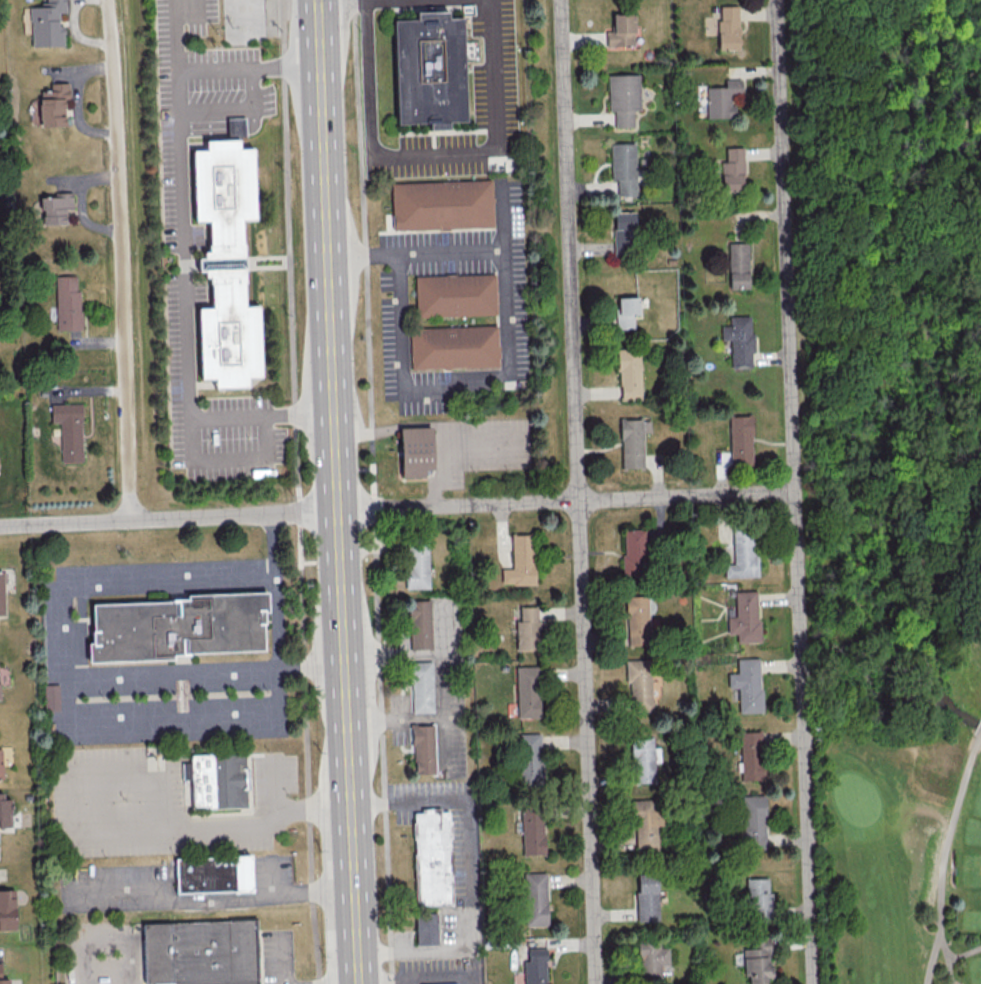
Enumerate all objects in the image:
road: (366, 1)
road: (393, 1)
road: (342, 2)
road: (292, 3)
road: (273, 17)
power substation: (247, 22)
building: (46, 23)
building: (728, 27)
building: (621, 30)
road: (287, 66)
road: (183, 67)
building: (433, 70)
building: (623, 98)
building: (723, 99)
road: (257, 100)
building: (53, 104)
road: (205, 128)
road: (238, 128)
building: (238, 130)
road: (437, 157)
building: (623, 167)
building: (732, 170)
building: (443, 206)
building: (55, 207)
road: (326, 217)
building: (623, 233)
road: (450, 253)
road: (119, 260)
building: (228, 263)
building: (738, 265)
building: (457, 296)
building: (67, 302)
park: (862, 309)
building: (626, 311)
road: (189, 320)
building: (738, 340)
building: (454, 348)
building: (629, 373)
road: (457, 390)
river: (944, 405)
road: (299, 414)
road: (229, 417)
road: (392, 427)
building: (69, 430)
building: (740, 440)
building: (632, 442)
road: (444, 446)
building: (417, 452)
road: (503, 453)
road: (336, 473)
road: (296, 492)
road: (374, 492)
road: (577, 492)
road: (794, 492)
road: (565, 501)
road: (307, 514)
road: (137, 520)
building: (633, 552)
building: (743, 555)
building: (520, 560)
building: (418, 564)
building: (1, 593)
building: (744, 617)
building: (637, 620)
road: (279, 624)
building: (421, 626)
building: (178, 628)
building: (527, 628)
park: (919, 641)
road: (394, 655)
road: (444, 658)
road: (173, 671)
road: (65, 672)
building: (639, 684)
building: (747, 684)
building: (423, 688)
building: (527, 691)
building: (51, 697)
road: (423, 717)
road: (980, 738)
road: (348, 748)
building: (425, 750)
building: (750, 755)
building: (529, 758)
building: (642, 760)
building: (0, 763)
building: (218, 781)
road: (276, 787)
building: (5, 811)
building: (753, 820)
building: (646, 822)
building: (532, 830)
road: (115, 834)
road: (951, 834)
building: (431, 857)
road: (468, 873)
building: (215, 875)
road: (272, 881)
building: (646, 897)
building: (757, 897)
building: (535, 898)
road: (212, 901)
building: (7, 909)
building: (428, 929)
road: (111, 941)
building: (201, 953)
road: (965, 954)
road: (933, 958)
road: (949, 958)
road: (287, 960)
building: (651, 960)
building: (757, 960)
road: (474, 962)
building: (535, 967)
building: (3, 979)
road: (424, 979)

